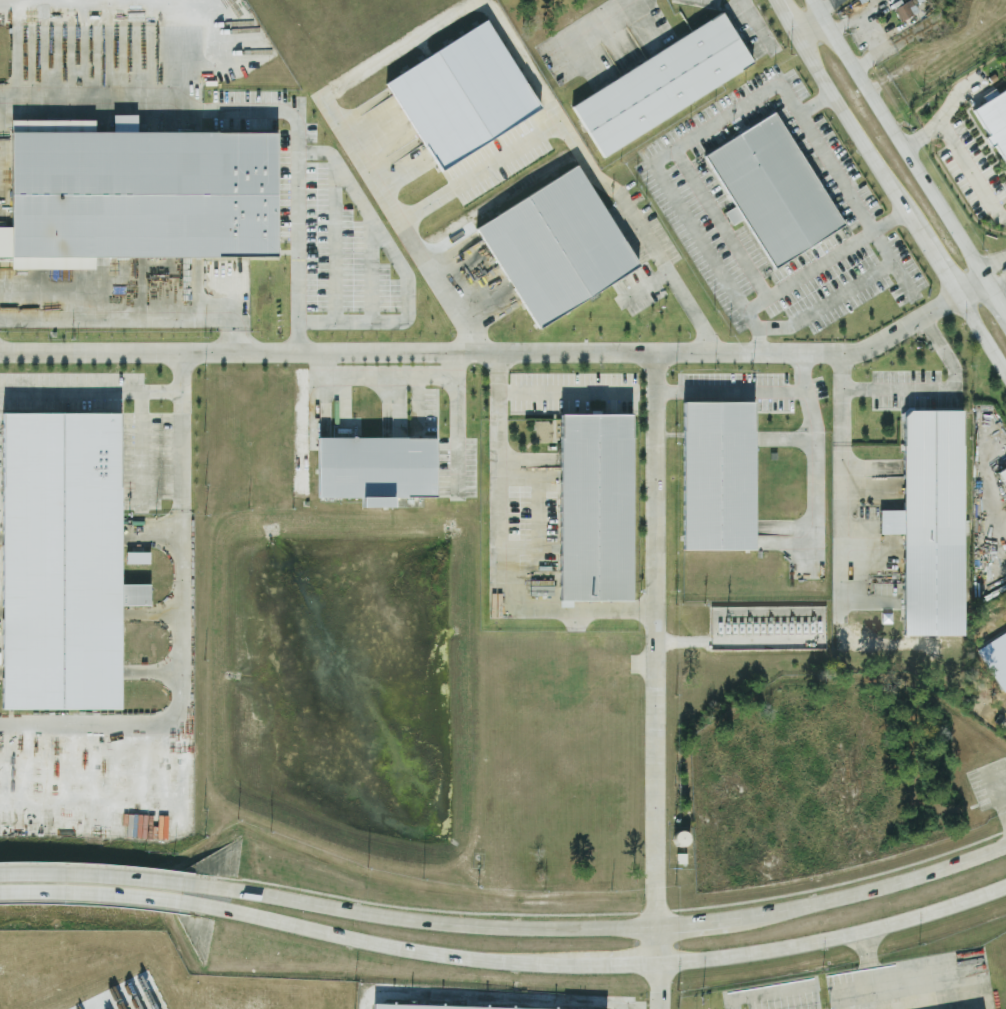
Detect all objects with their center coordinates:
road: (830, 9)
building: (908, 9)
road: (785, 15)
road: (605, 21)
road: (755, 23)
road: (806, 24)
road: (873, 32)
road: (379, 67)
building: (660, 84)
road: (775, 87)
building: (467, 96)
road: (102, 97)
road: (815, 104)
building: (994, 120)
road: (857, 137)
road: (894, 139)
road: (916, 140)
road: (969, 165)
road: (481, 176)
road: (299, 186)
building: (773, 190)
building: (141, 194)
building: (555, 247)
road: (824, 261)
road: (403, 266)
road: (937, 268)
road: (994, 270)
road: (672, 278)
road: (967, 285)
road: (123, 292)
road: (994, 297)
road: (979, 334)
road: (234, 339)
road: (249, 350)
road: (568, 354)
road: (378, 377)
road: (920, 386)
road: (748, 390)
road: (91, 391)
road: (559, 392)
road: (810, 407)
road: (458, 410)
road: (841, 413)
road: (181, 430)
road: (141, 442)
building: (375, 467)
building: (1003, 475)
building: (717, 477)
road: (986, 480)
road: (653, 481)
road: (815, 497)
building: (375, 503)
building: (594, 508)
road: (841, 520)
building: (932, 523)
road: (501, 551)
building: (140, 559)
building: (59, 565)
road: (647, 610)
power plant: (767, 627)
road: (178, 704)
road: (117, 874)
road: (111, 895)
road: (623, 927)
road: (835, 935)
road: (658, 945)
road: (399, 947)
road: (866, 948)
road: (620, 964)
road: (659, 986)
road: (873, 987)
road: (945, 999)
building: (395, 1008)

